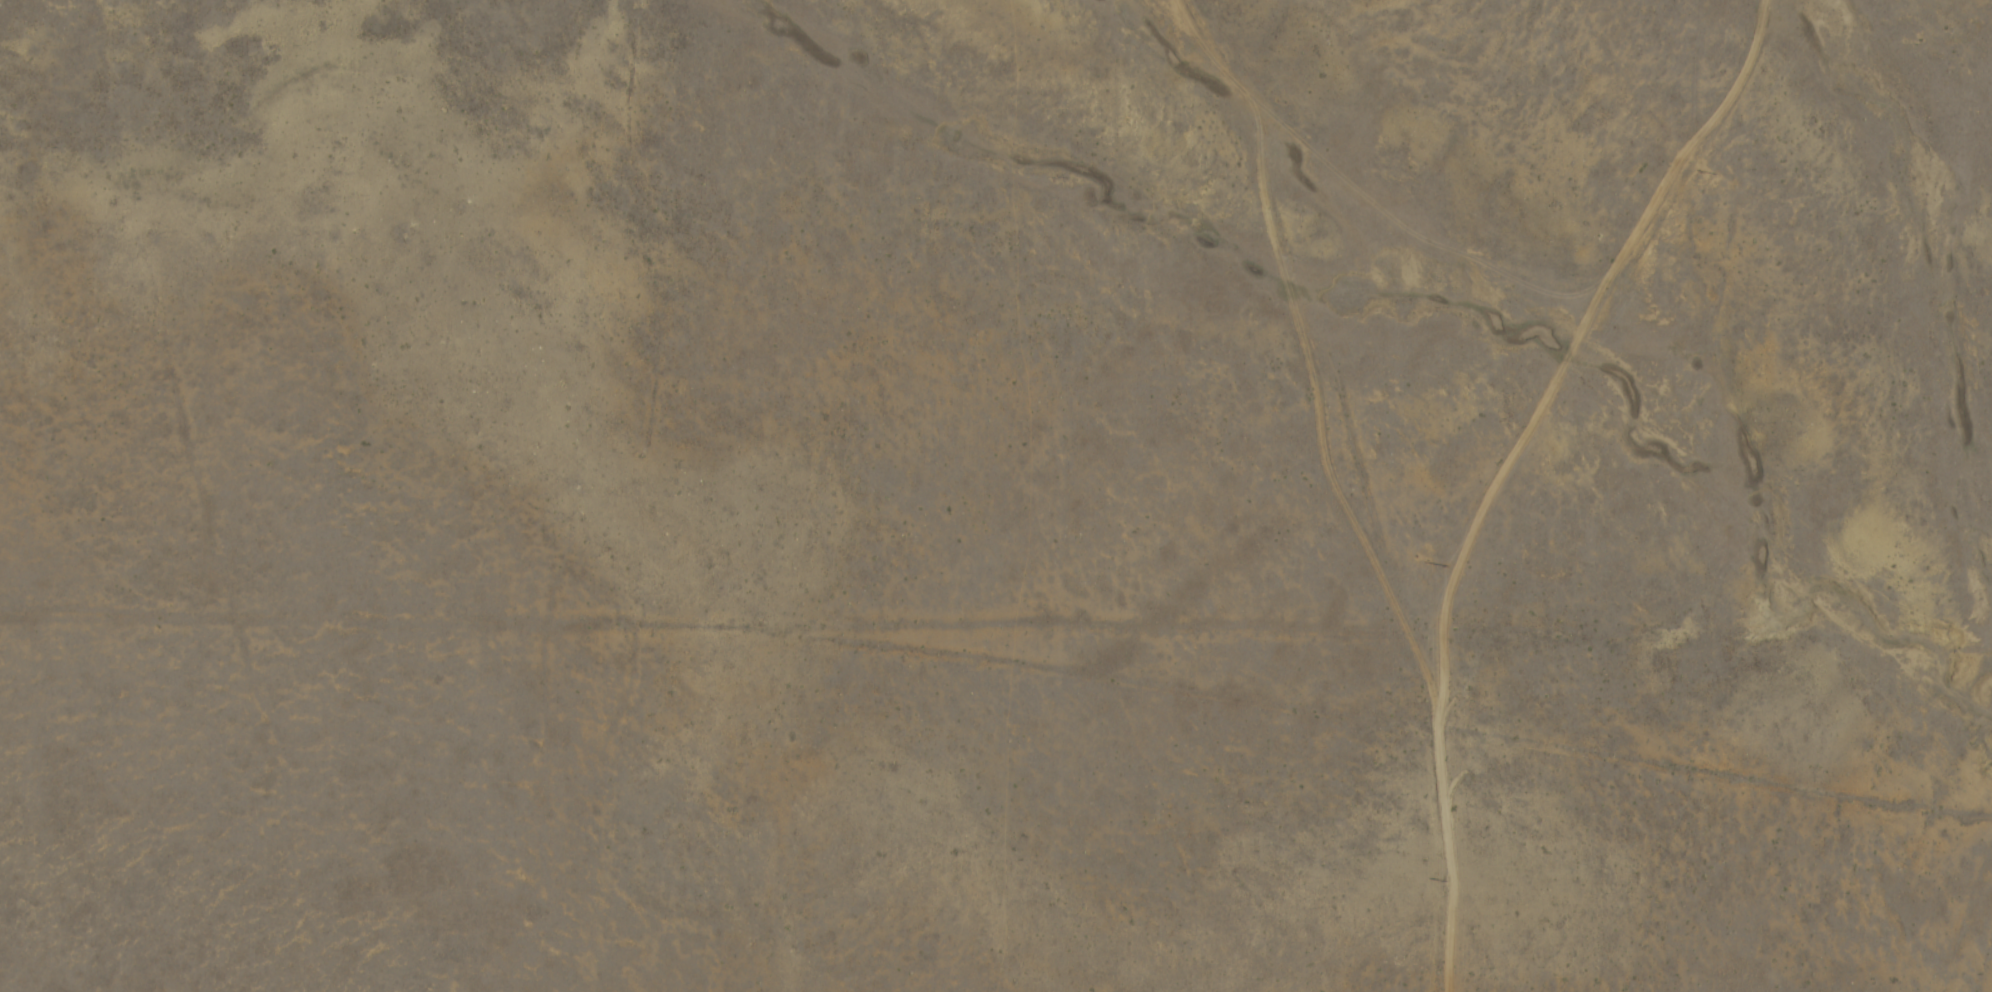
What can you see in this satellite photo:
road: (1345, 490)

